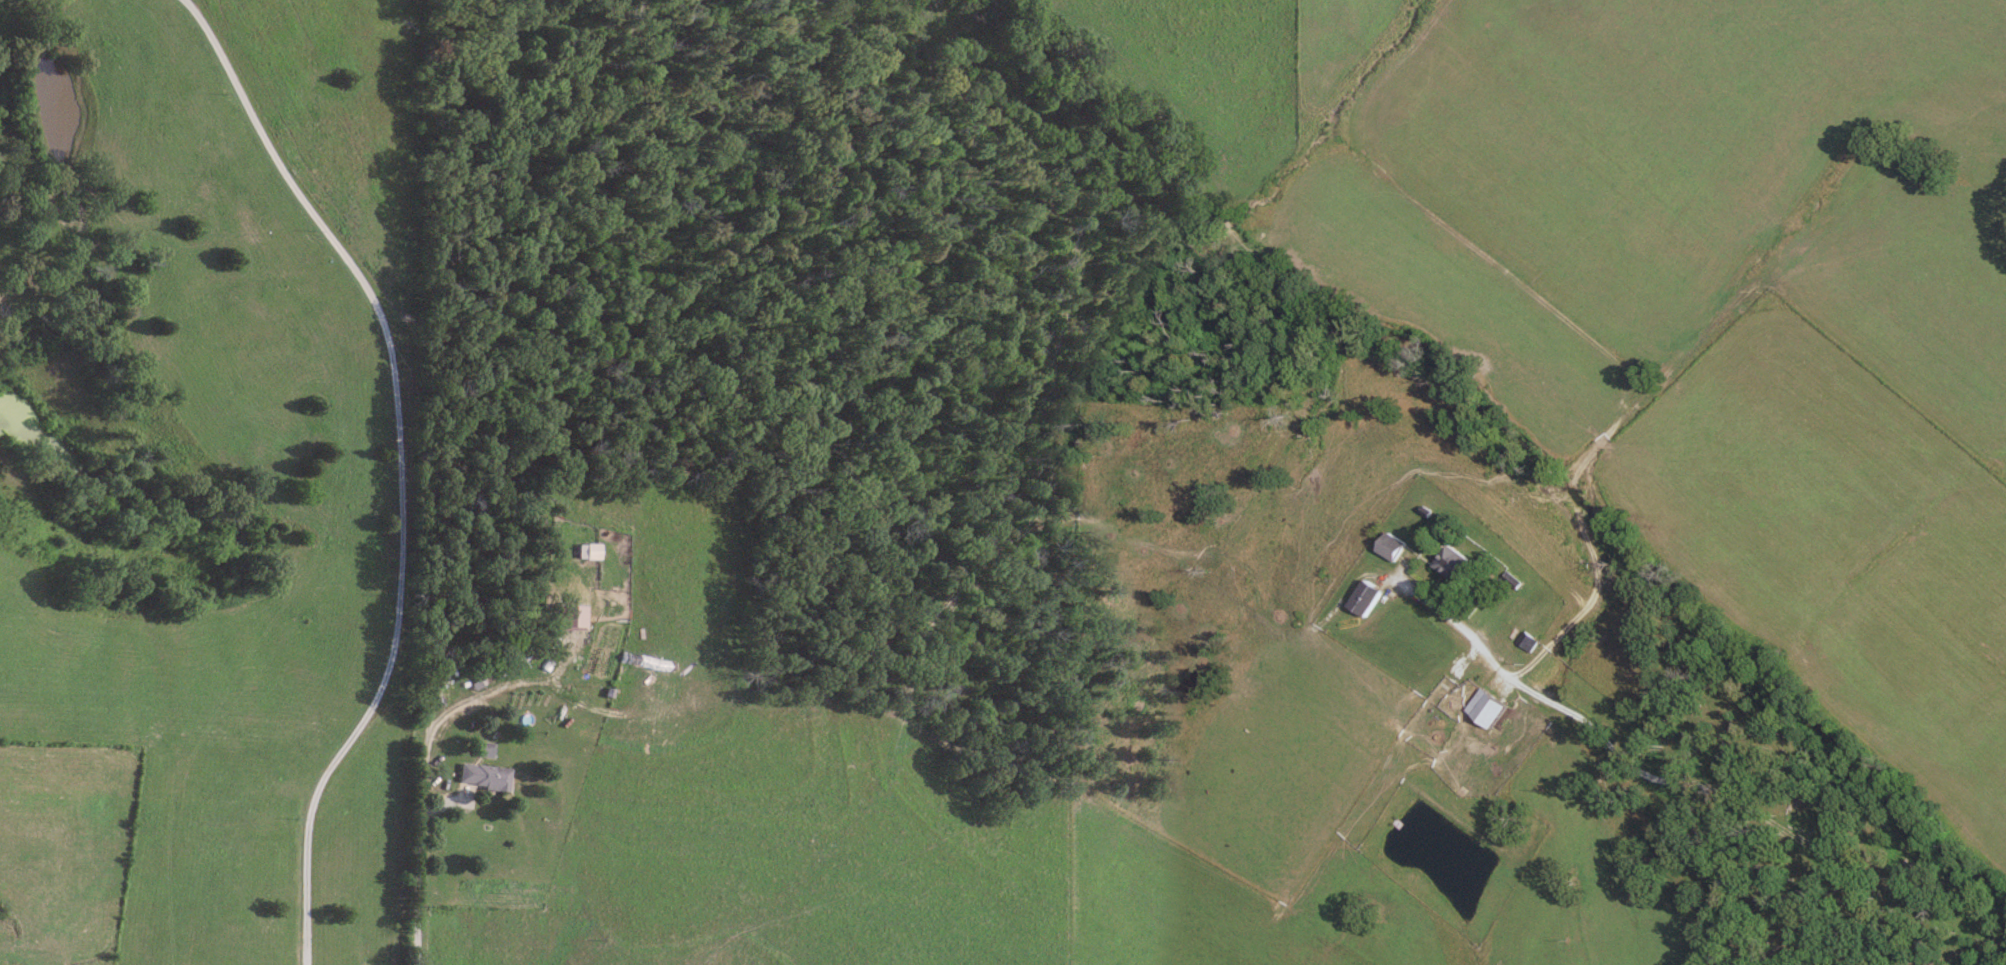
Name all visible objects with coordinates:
road: (400, 464)
building: (1392, 545)
building: (1449, 560)
building: (1366, 596)
building: (1484, 707)
road: (425, 760)
building: (482, 775)
road: (1678, 782)

